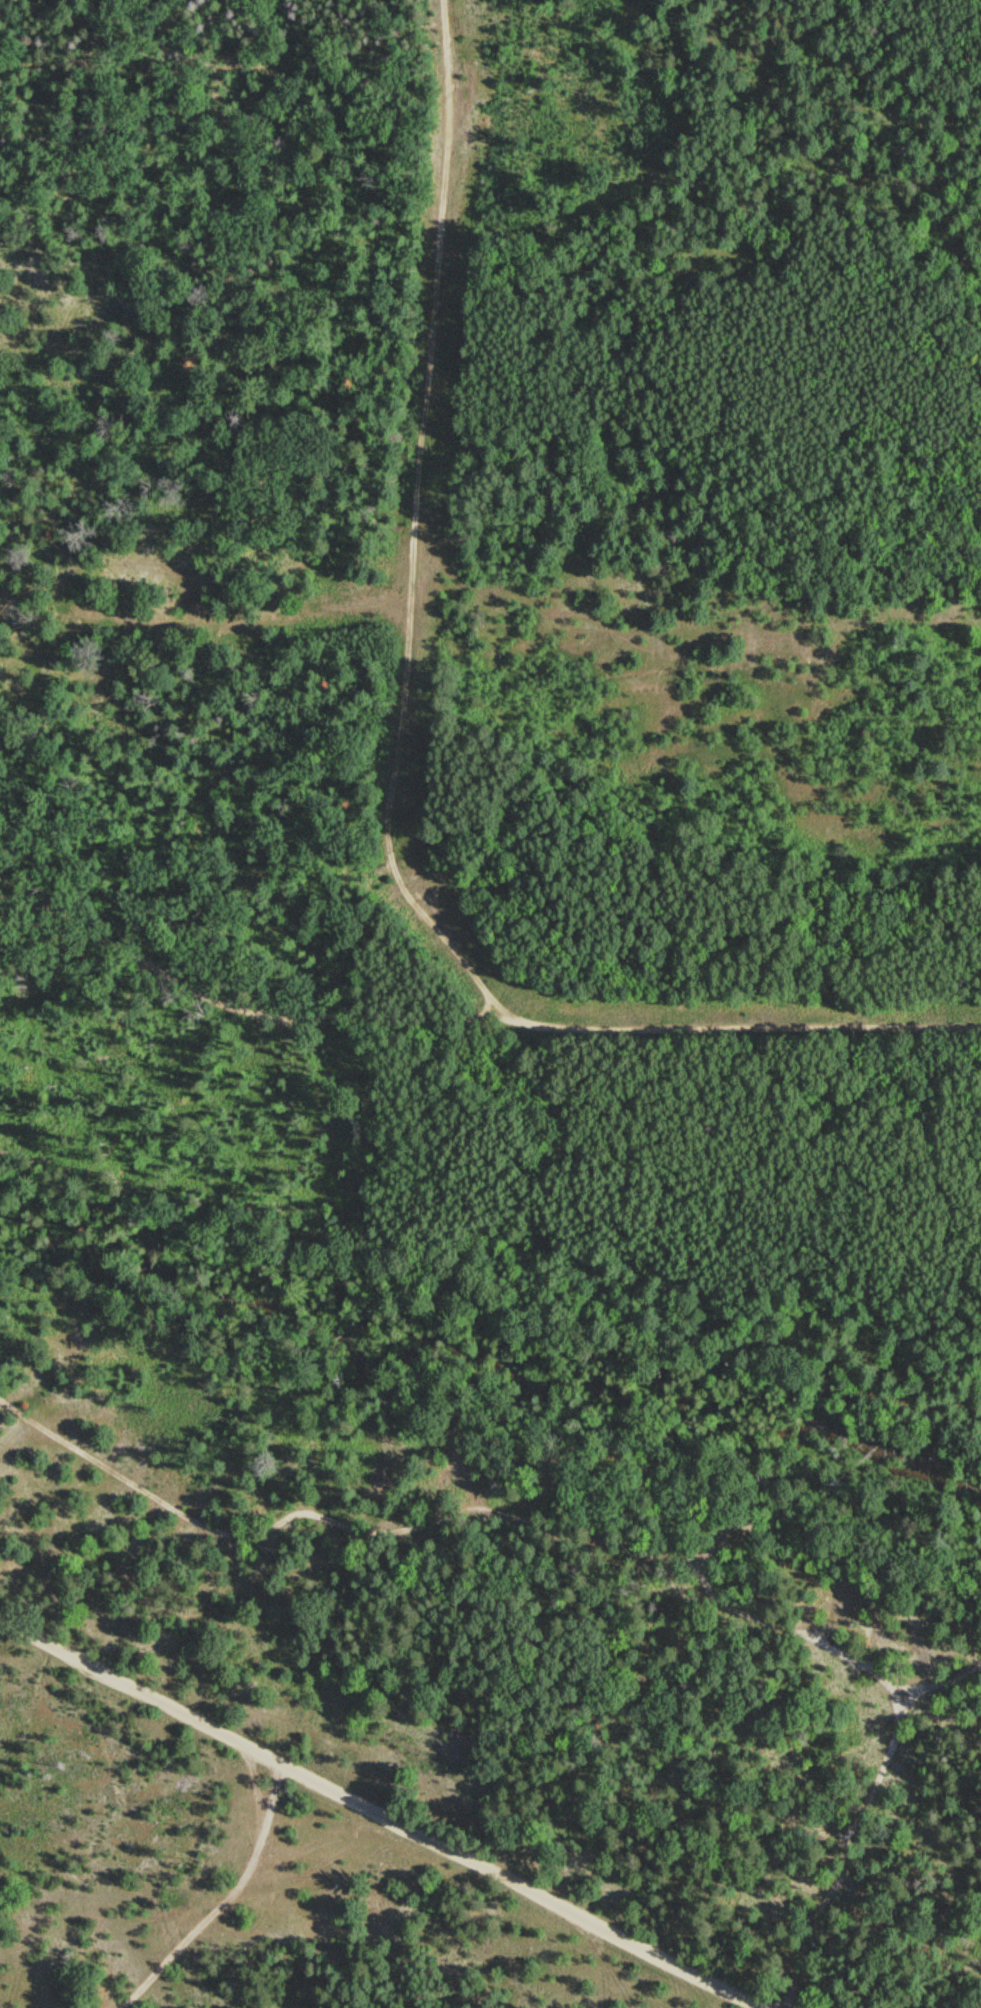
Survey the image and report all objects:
road: (415, 525)
road: (470, 1014)
road: (843, 1355)
road: (616, 1549)
road: (944, 1680)
road: (387, 1808)
road: (229, 1897)

